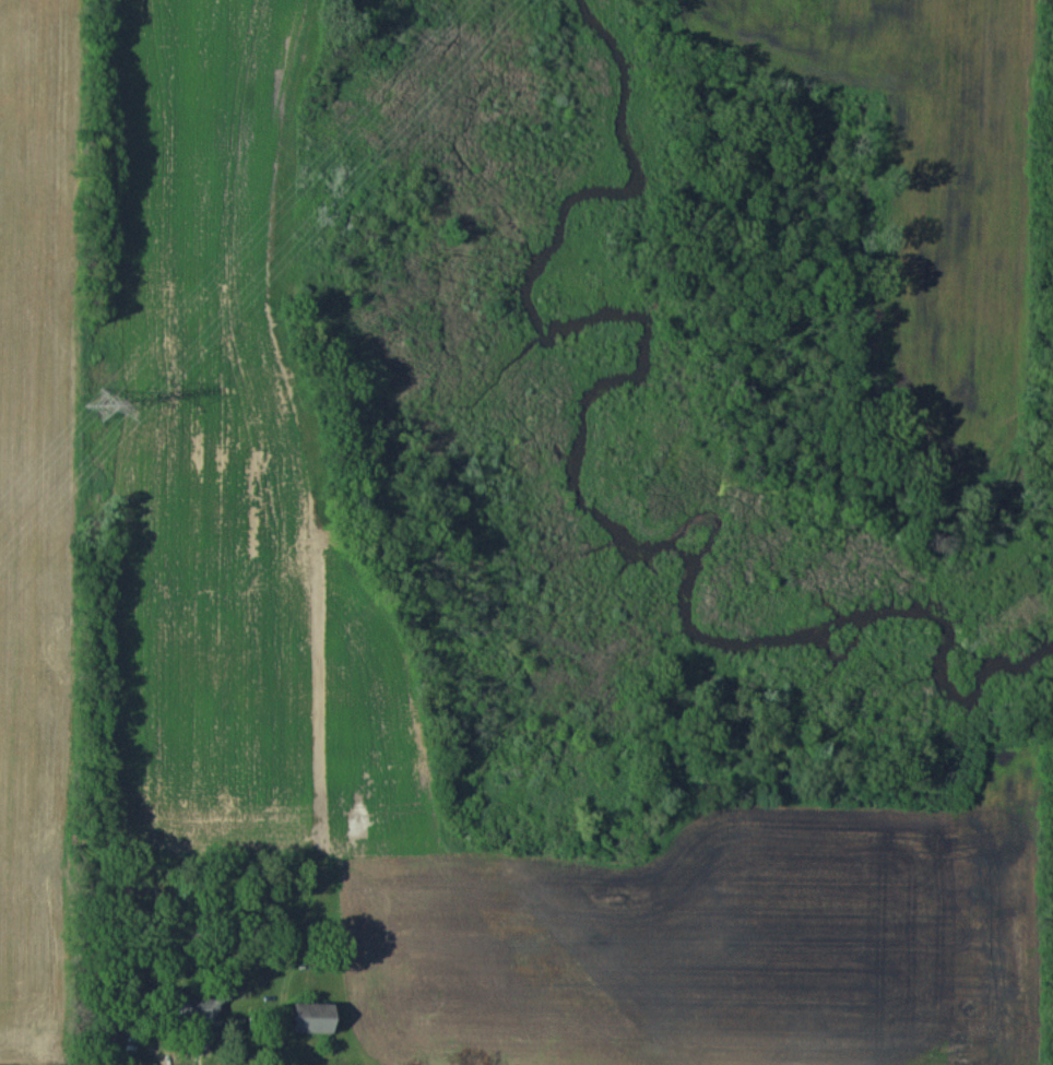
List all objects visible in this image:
power tower: (96, 404)
building: (307, 1017)
building: (198, 1037)

